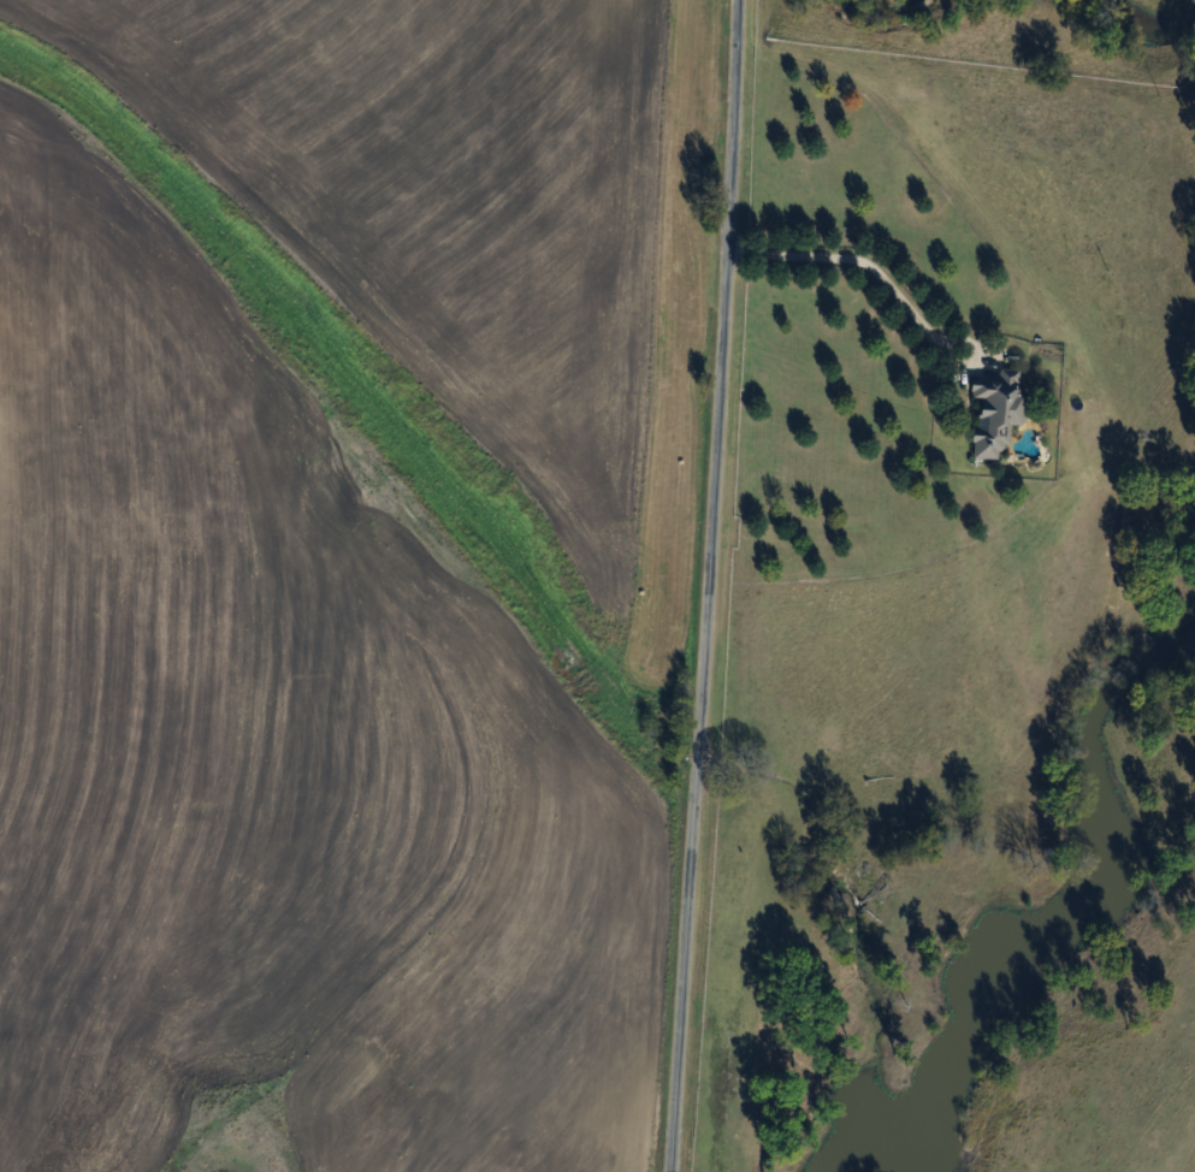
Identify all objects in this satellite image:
road: (859, 265)
building: (1001, 412)
road: (709, 586)

